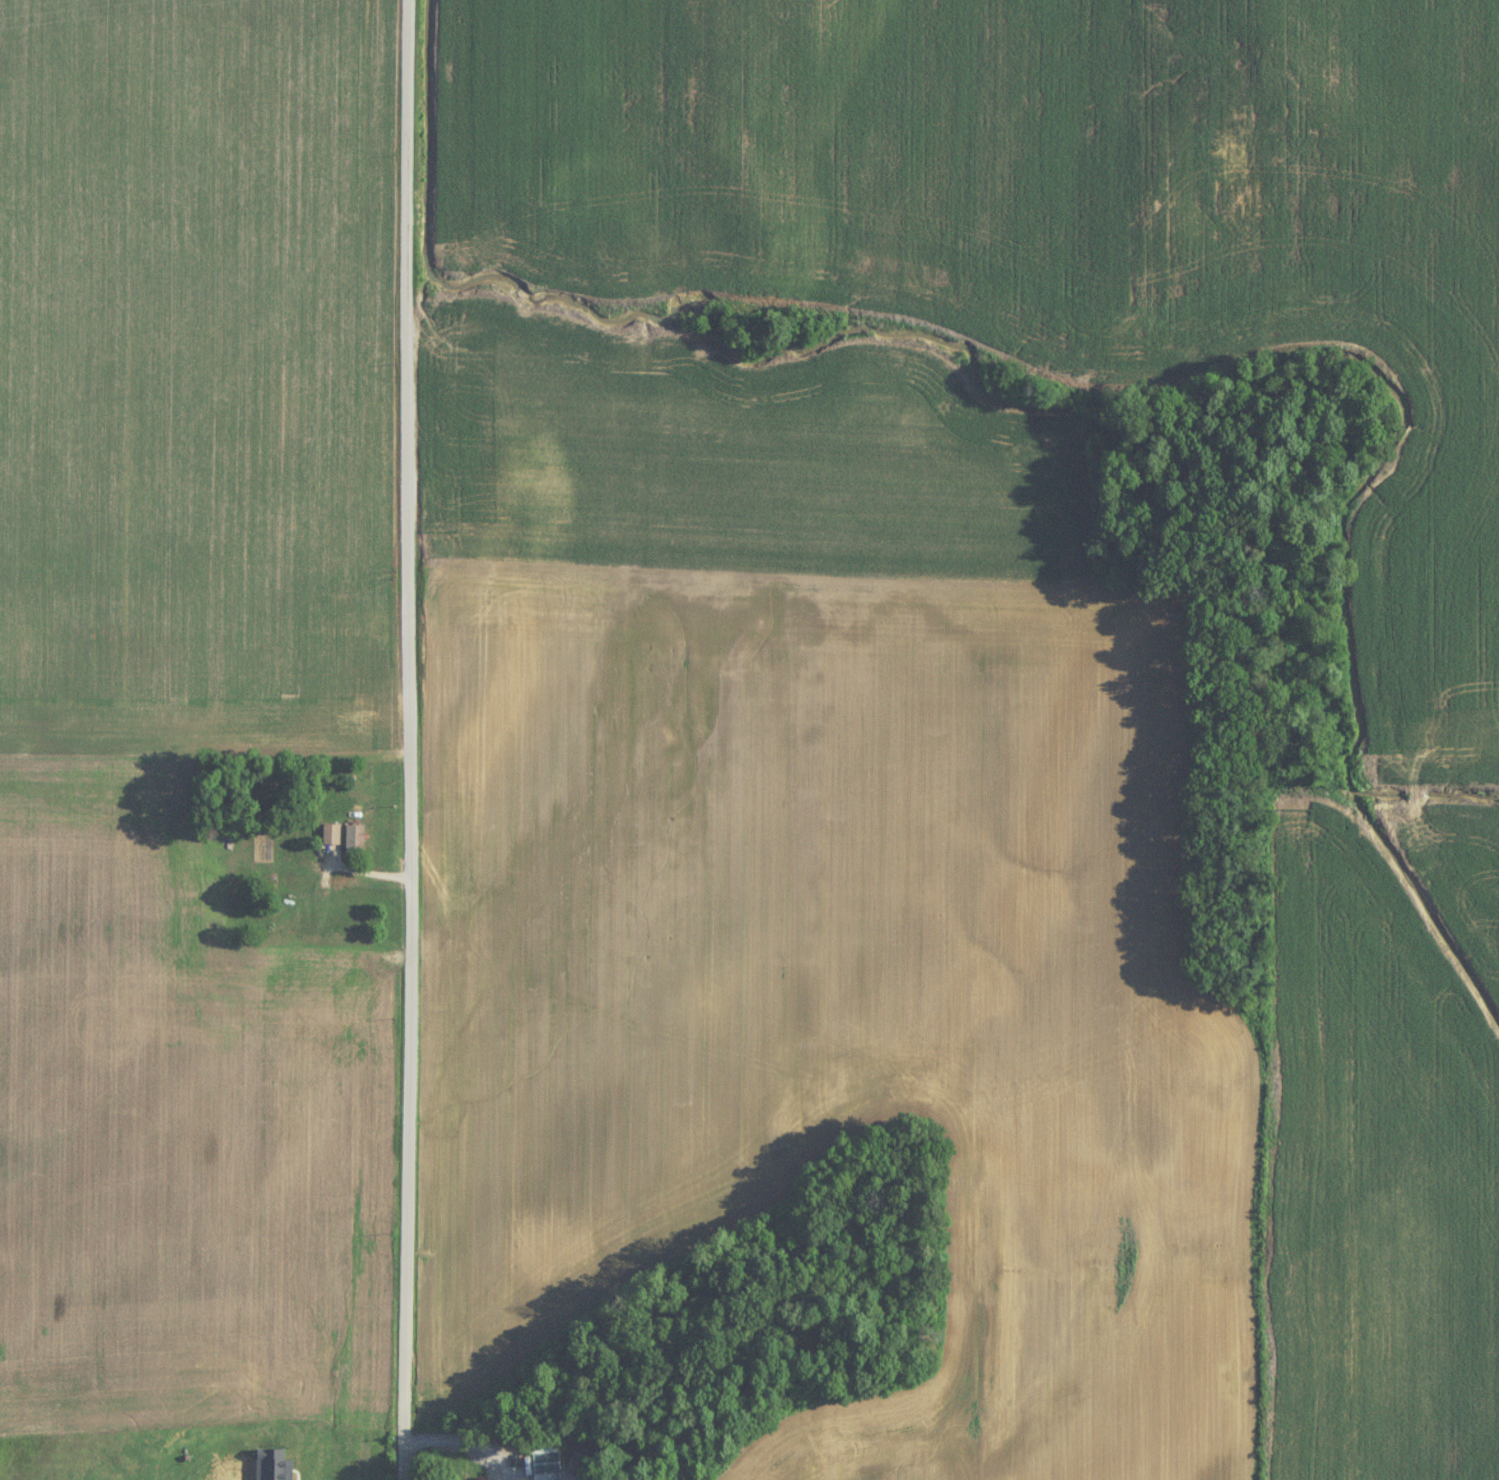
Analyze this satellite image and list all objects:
road: (408, 740)
building: (331, 836)
building: (355, 839)
road: (479, 1441)
building: (546, 1465)

